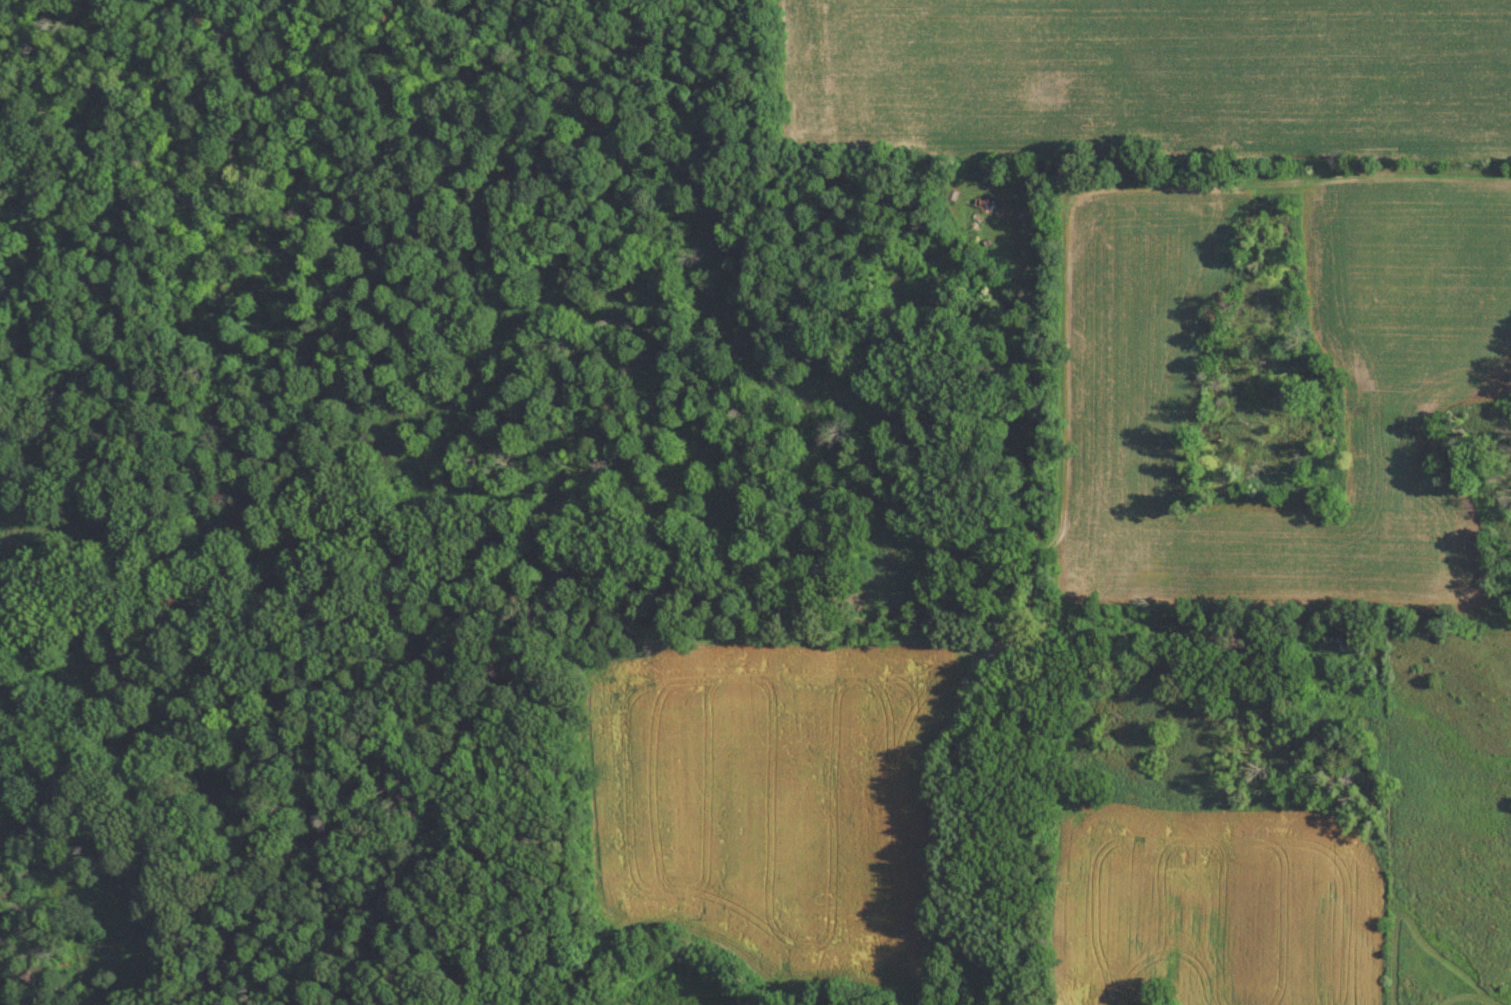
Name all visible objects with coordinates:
building: (822, 572)

